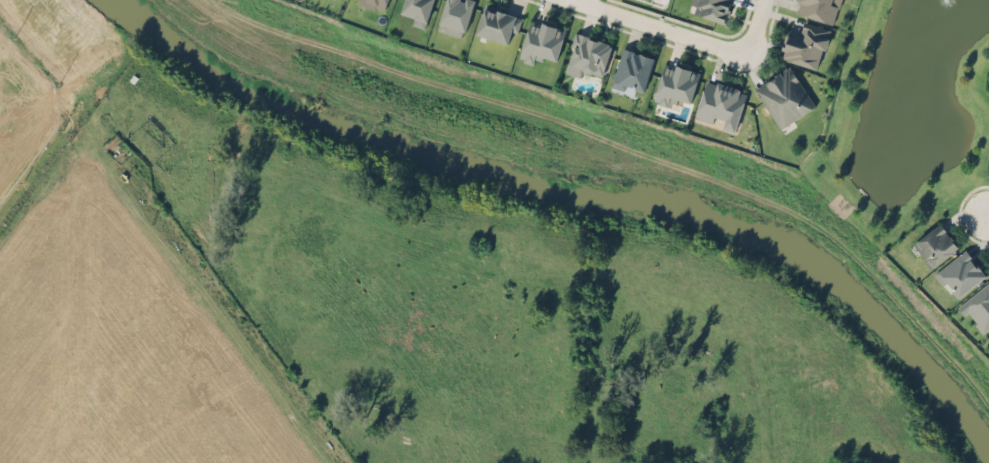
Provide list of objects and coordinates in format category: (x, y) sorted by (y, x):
road: (577, 1)
building: (374, 3)
fountain: (945, 5)
building: (711, 8)
building: (817, 9)
building: (417, 11)
building: (455, 16)
building: (498, 23)
road: (656, 27)
road: (750, 27)
building: (541, 40)
building: (805, 44)
building: (587, 54)
building: (632, 70)
building: (676, 83)
building: (784, 96)
building: (720, 102)
river: (581, 191)
road: (986, 217)
road: (167, 241)
building: (935, 245)
building: (960, 273)
building: (977, 307)

